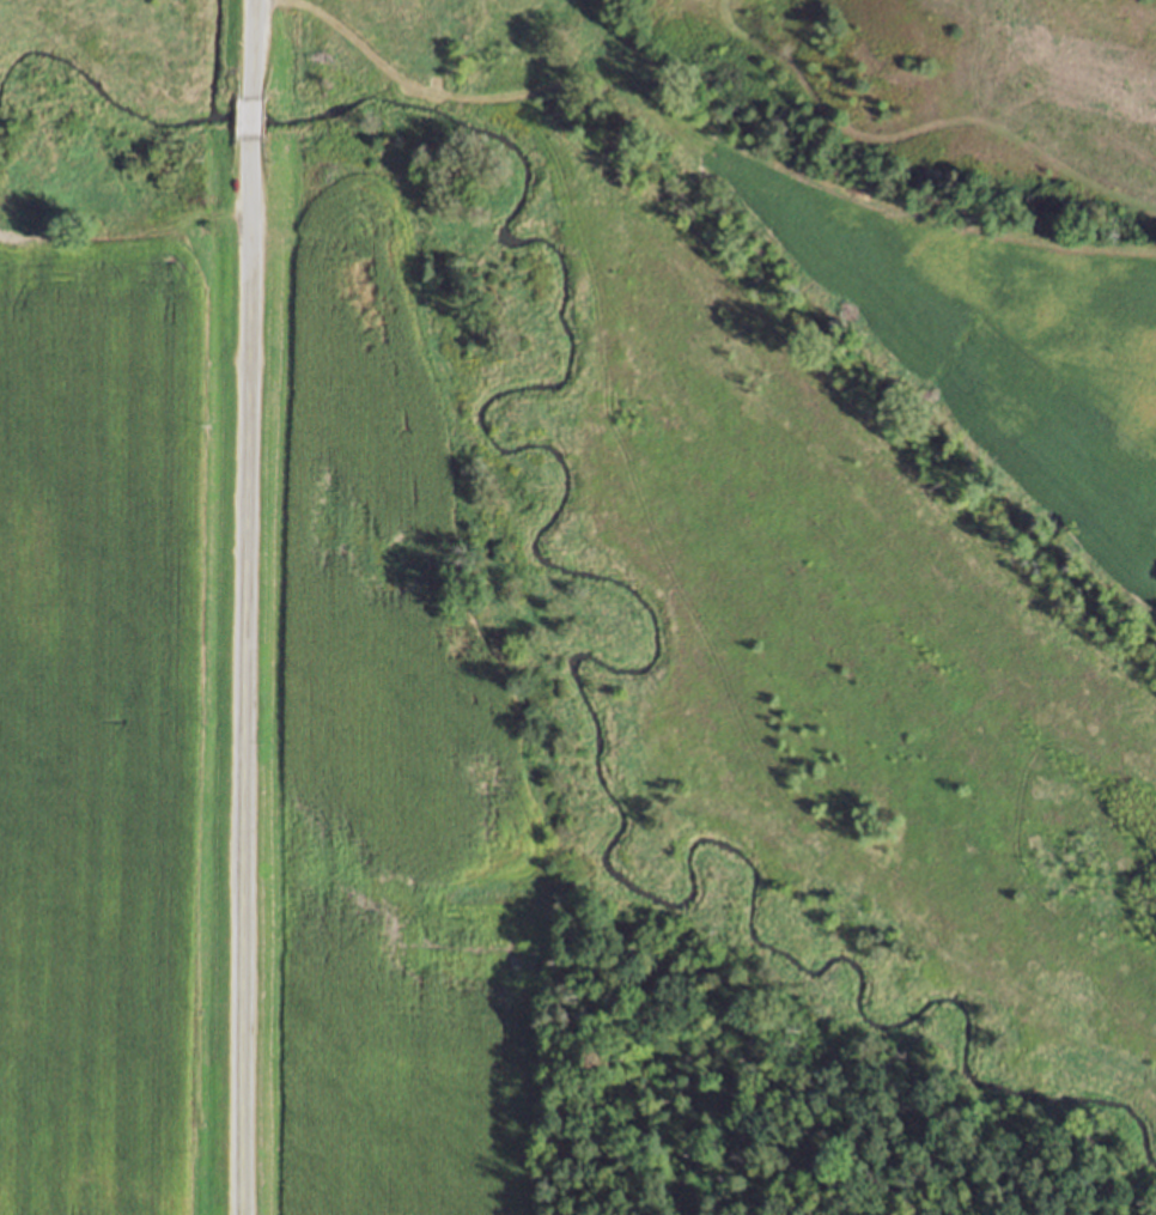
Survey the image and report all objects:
road: (251, 49)
road: (250, 120)
river: (583, 570)
road: (244, 676)

